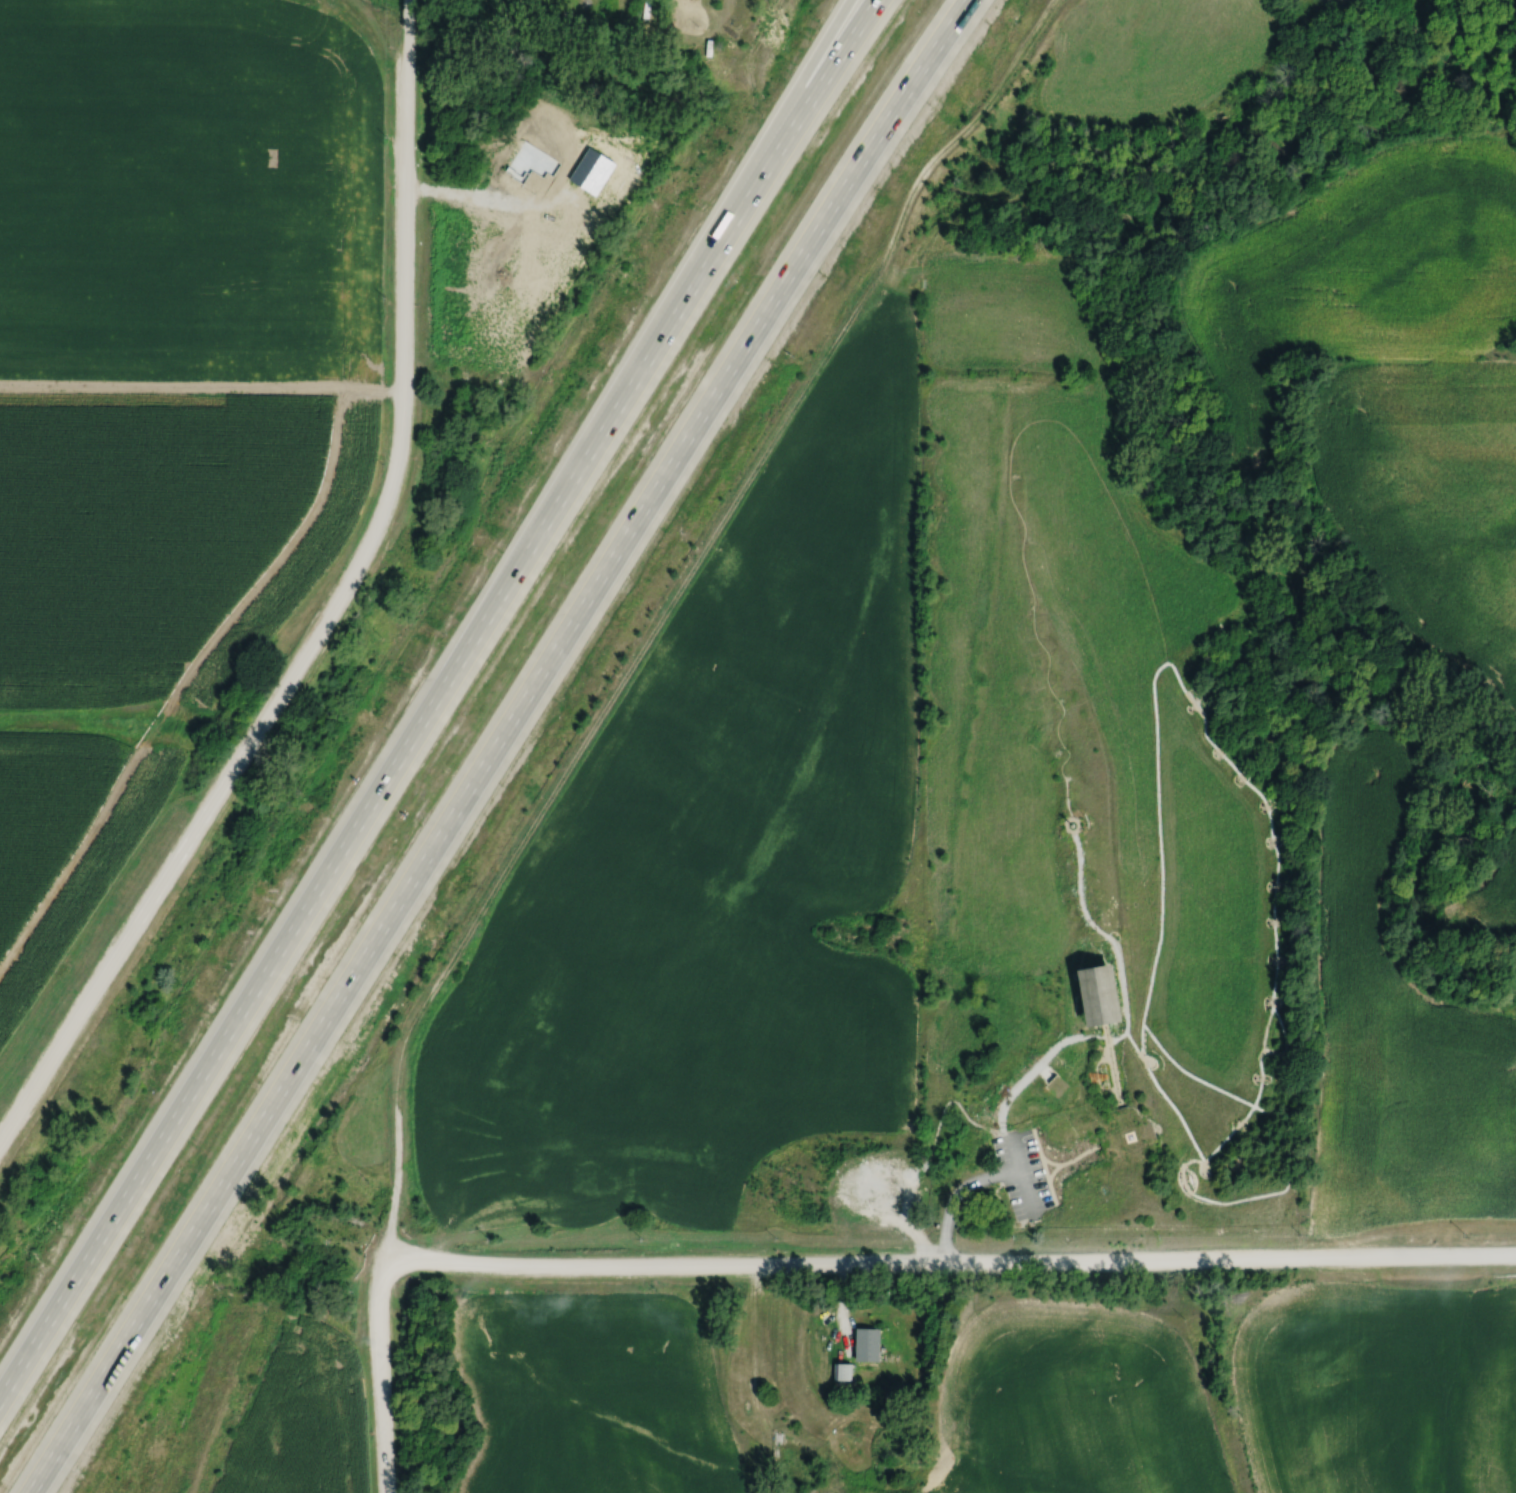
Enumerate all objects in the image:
road: (403, 13)
road: (464, 197)
road: (730, 208)
road: (320, 618)
road: (434, 701)
road: (497, 743)
road: (583, 755)
road: (1268, 811)
road: (1124, 940)
building: (1089, 994)
building: (1119, 996)
road: (1121, 1068)
road: (1040, 1070)
building: (1137, 1138)
road: (1289, 1142)
road: (1073, 1157)
road: (1050, 1159)
parking lot: (1020, 1174)
road: (952, 1210)
road: (523, 1211)
road: (833, 1269)
road: (844, 1300)
road: (753, 1326)
building: (863, 1344)
building: (734, 1373)

